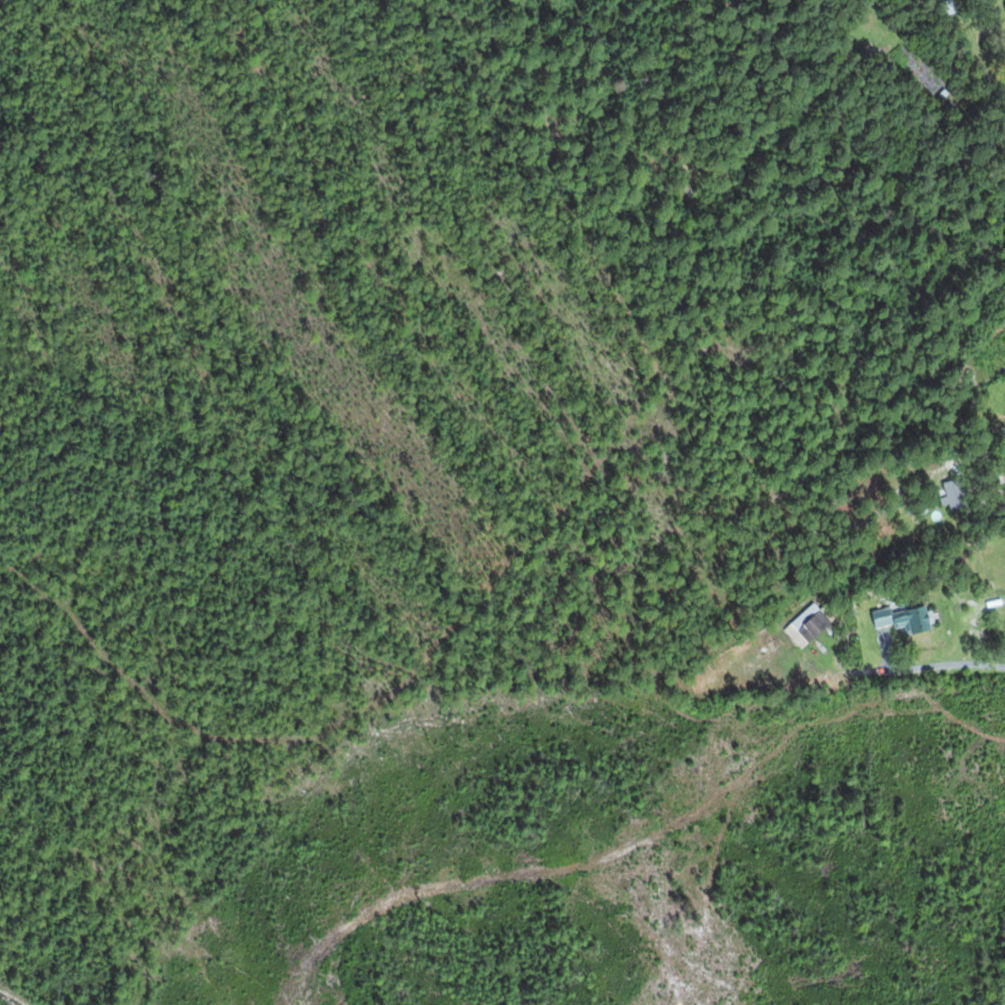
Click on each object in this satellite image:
building: (947, 8)
road: (988, 450)
building: (957, 493)
building: (905, 618)
building: (808, 625)

